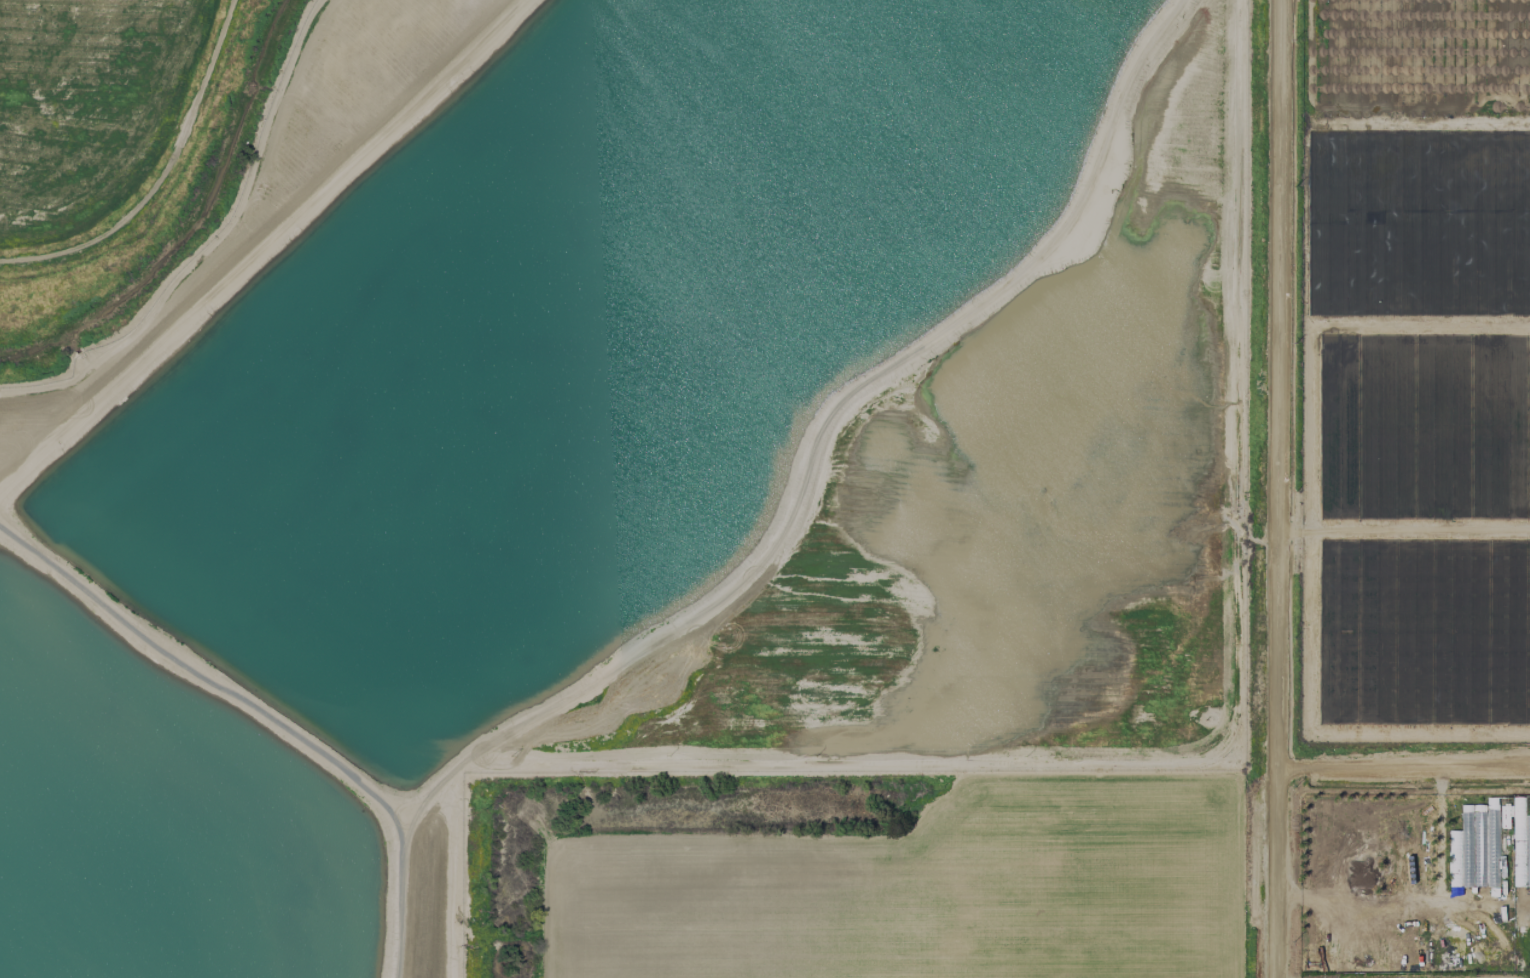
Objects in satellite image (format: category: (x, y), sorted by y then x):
river: (185, 211)
road: (1275, 489)
road: (1402, 770)
building: (1460, 847)

